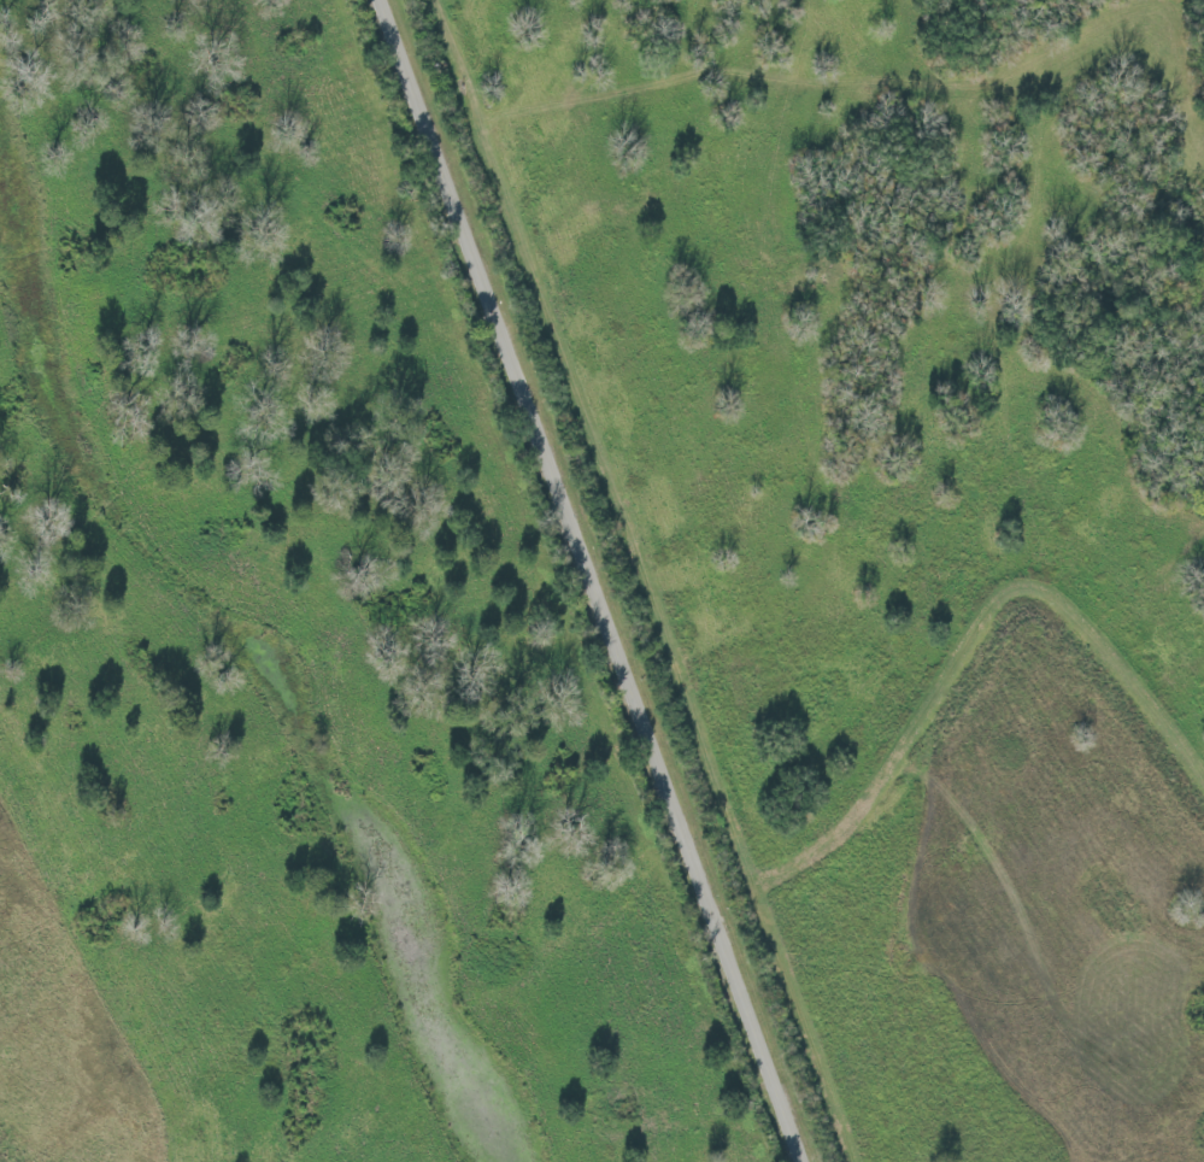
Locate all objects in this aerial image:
road: (593, 581)

